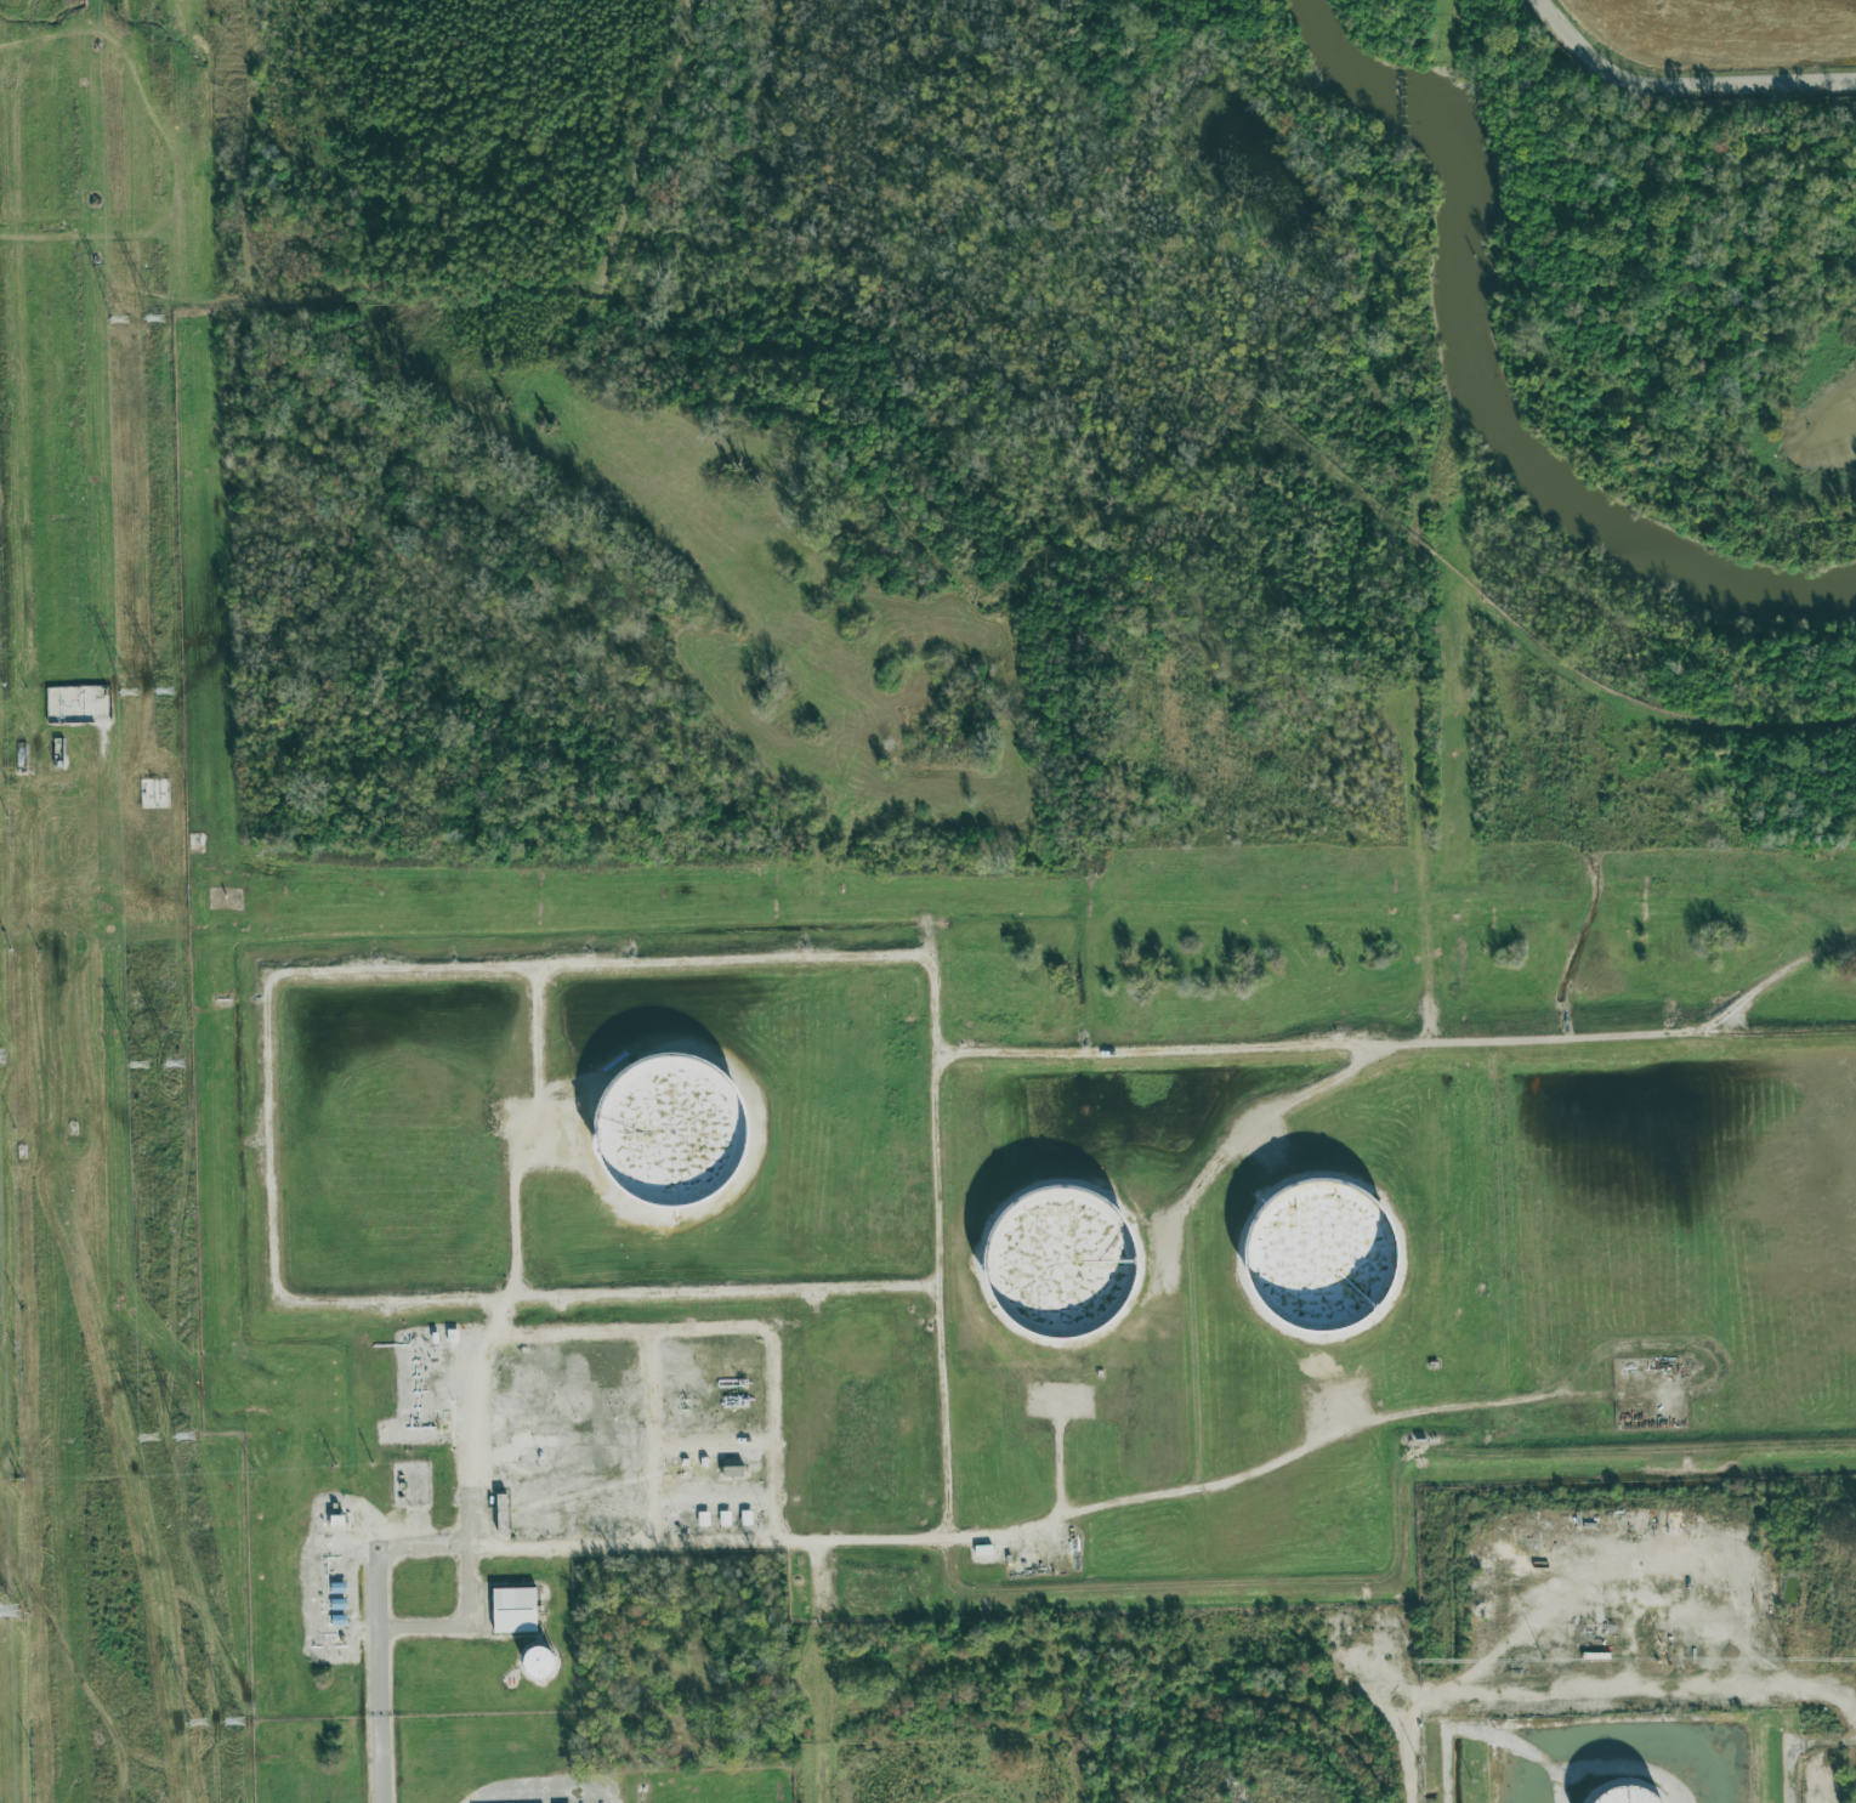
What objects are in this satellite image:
road: (1679, 85)
power tower: (118, 333)
river: (1486, 387)
power tower: (132, 696)
building: (79, 704)
road: (1773, 983)
road: (543, 1032)
road: (1398, 1048)
power tower: (140, 1065)
road: (274, 1084)
road: (510, 1112)
building: (655, 1126)
road: (1239, 1139)
road: (942, 1173)
building: (1307, 1252)
building: (1045, 1255)
road: (503, 1314)
road: (478, 1332)
power tower: (146, 1438)
building: (726, 1470)
building: (699, 1518)
building: (721, 1518)
building: (742, 1518)
building: (1670, 1518)
building: (331, 1519)
road: (1009, 1535)
road: (540, 1543)
building: (980, 1549)
road: (1315, 1583)
building: (510, 1609)
power tower: (7, 1626)
building: (529, 1661)
power tower: (197, 1725)
road: (1800, 1747)
road: (545, 1784)
building: (1616, 1795)

